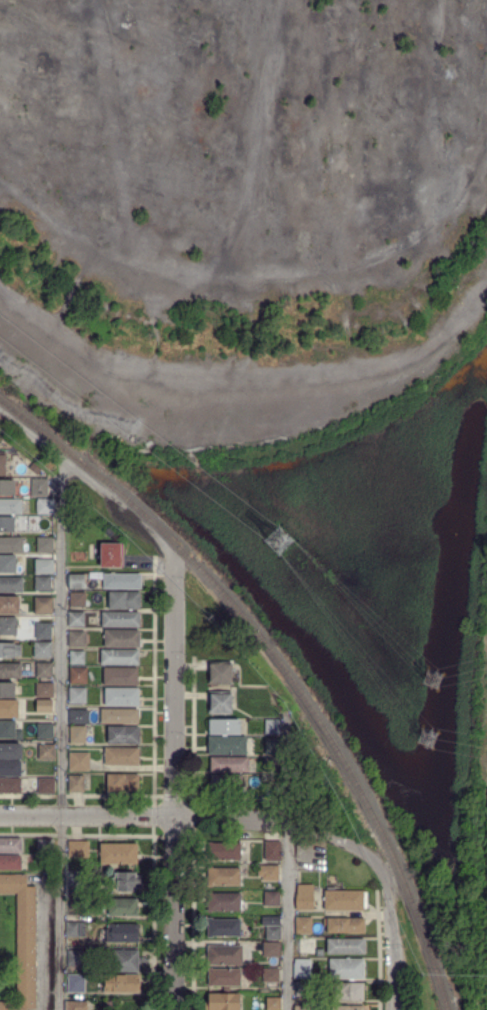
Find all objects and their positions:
building: (2, 465)
building: (32, 468)
road: (88, 481)
building: (6, 487)
building: (40, 488)
building: (10, 507)
building: (45, 507)
building: (26, 520)
building: (6, 524)
building: (109, 532)
power tower: (280, 540)
building: (11, 545)
building: (44, 545)
building: (93, 550)
building: (111, 555)
building: (7, 564)
building: (43, 565)
building: (121, 581)
building: (77, 582)
building: (42, 583)
building: (11, 585)
building: (77, 599)
building: (124, 601)
building: (8, 605)
building: (43, 606)
building: (120, 619)
building: (76, 620)
building: (8, 627)
building: (43, 631)
building: (121, 638)
building: (75, 639)
building: (9, 650)
building: (42, 650)
building: (119, 657)
building: (77, 658)
railway: (279, 664)
building: (44, 670)
building: (9, 671)
building: (220, 674)
building: (77, 675)
building: (119, 676)
power tower: (435, 680)
building: (6, 690)
building: (44, 690)
building: (77, 695)
building: (119, 697)
building: (219, 704)
building: (43, 706)
building: (8, 708)
building: (119, 716)
building: (77, 717)
building: (273, 726)
building: (224, 727)
building: (9, 731)
building: (44, 731)
road: (59, 731)
building: (78, 734)
building: (122, 735)
power tower: (426, 737)
building: (226, 746)
building: (272, 747)
building: (10, 751)
building: (45, 752)
building: (121, 757)
building: (79, 762)
building: (271, 764)
building: (229, 765)
building: (9, 769)
road: (175, 783)
building: (76, 784)
building: (122, 784)
building: (225, 784)
building: (9, 786)
building: (45, 786)
road: (87, 816)
road: (231, 819)
road: (349, 842)
building: (10, 845)
building: (44, 845)
building: (77, 849)
building: (223, 851)
building: (272, 851)
building: (118, 853)
building: (10, 863)
building: (270, 873)
building: (223, 877)
building: (75, 878)
building: (125, 881)
building: (304, 897)
building: (271, 898)
building: (345, 900)
building: (223, 902)
building: (77, 904)
building: (122, 907)
road: (287, 916)
building: (273, 919)
building: (303, 925)
building: (344, 925)
building: (224, 927)
building: (75, 929)
building: (122, 933)
building: (272, 933)
building: (22, 941)
building: (307, 946)
building: (345, 947)
building: (270, 949)
road: (389, 950)
building: (224, 955)
building: (75, 957)
building: (125, 961)
building: (302, 969)
building: (345, 969)
building: (270, 975)
building: (223, 977)
building: (121, 983)
building: (75, 984)
building: (303, 988)
building: (347, 992)
building: (221, 1002)
building: (273, 1003)
building: (76, 1006)
building: (302, 1008)
building: (347, 1008)

